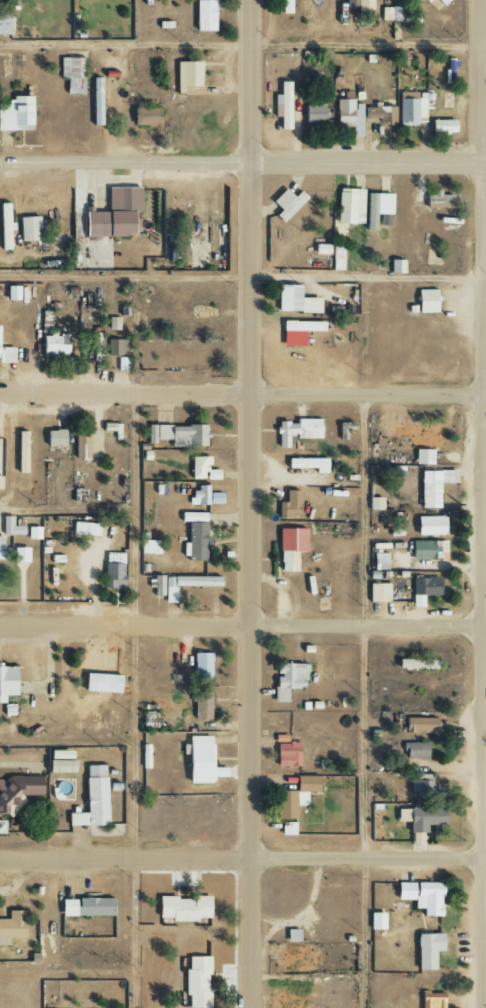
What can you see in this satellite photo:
building: (424, 1)
building: (442, 1)
building: (284, 6)
building: (359, 9)
building: (204, 15)
building: (4, 23)
road: (242, 45)
building: (71, 74)
building: (187, 78)
building: (95, 102)
building: (283, 105)
building: (413, 106)
building: (314, 109)
building: (15, 113)
building: (378, 113)
building: (349, 115)
building: (145, 117)
building: (441, 126)
road: (243, 162)
building: (438, 200)
building: (286, 203)
building: (349, 206)
building: (377, 210)
building: (4, 227)
building: (31, 229)
building: (320, 249)
building: (336, 256)
building: (396, 266)
road: (243, 277)
building: (14, 293)
building: (295, 300)
building: (425, 301)
building: (113, 323)
building: (298, 331)
building: (53, 344)
building: (117, 346)
building: (6, 355)
building: (122, 363)
road: (243, 394)
building: (344, 428)
building: (297, 431)
building: (178, 435)
building: (425, 437)
building: (54, 438)
building: (80, 444)
building: (20, 452)
building: (423, 456)
building: (307, 464)
building: (198, 466)
building: (211, 474)
building: (433, 486)
building: (204, 496)
building: (374, 503)
road: (252, 504)
building: (290, 504)
road: (483, 504)
road: (67, 509)
building: (429, 525)
building: (10, 527)
building: (85, 529)
building: (33, 533)
building: (195, 534)
building: (1, 547)
building: (149, 547)
building: (289, 547)
building: (428, 550)
building: (20, 555)
building: (379, 561)
building: (113, 571)
building: (157, 585)
building: (185, 585)
building: (423, 590)
building: (377, 592)
road: (243, 623)
building: (416, 664)
building: (201, 666)
building: (287, 680)
building: (6, 681)
road: (135, 701)
road: (364, 702)
building: (202, 706)
building: (420, 725)
building: (416, 750)
building: (285, 752)
building: (58, 755)
building: (197, 759)
building: (58, 766)
building: (422, 785)
building: (18, 789)
building: (295, 796)
building: (91, 799)
building: (424, 818)
building: (1, 827)
building: (416, 839)
road: (243, 858)
building: (420, 896)
building: (85, 907)
building: (183, 908)
building: (376, 921)
building: (11, 927)
building: (291, 935)
building: (426, 950)
building: (294, 959)
building: (196, 982)
building: (291, 996)
building: (431, 1000)

